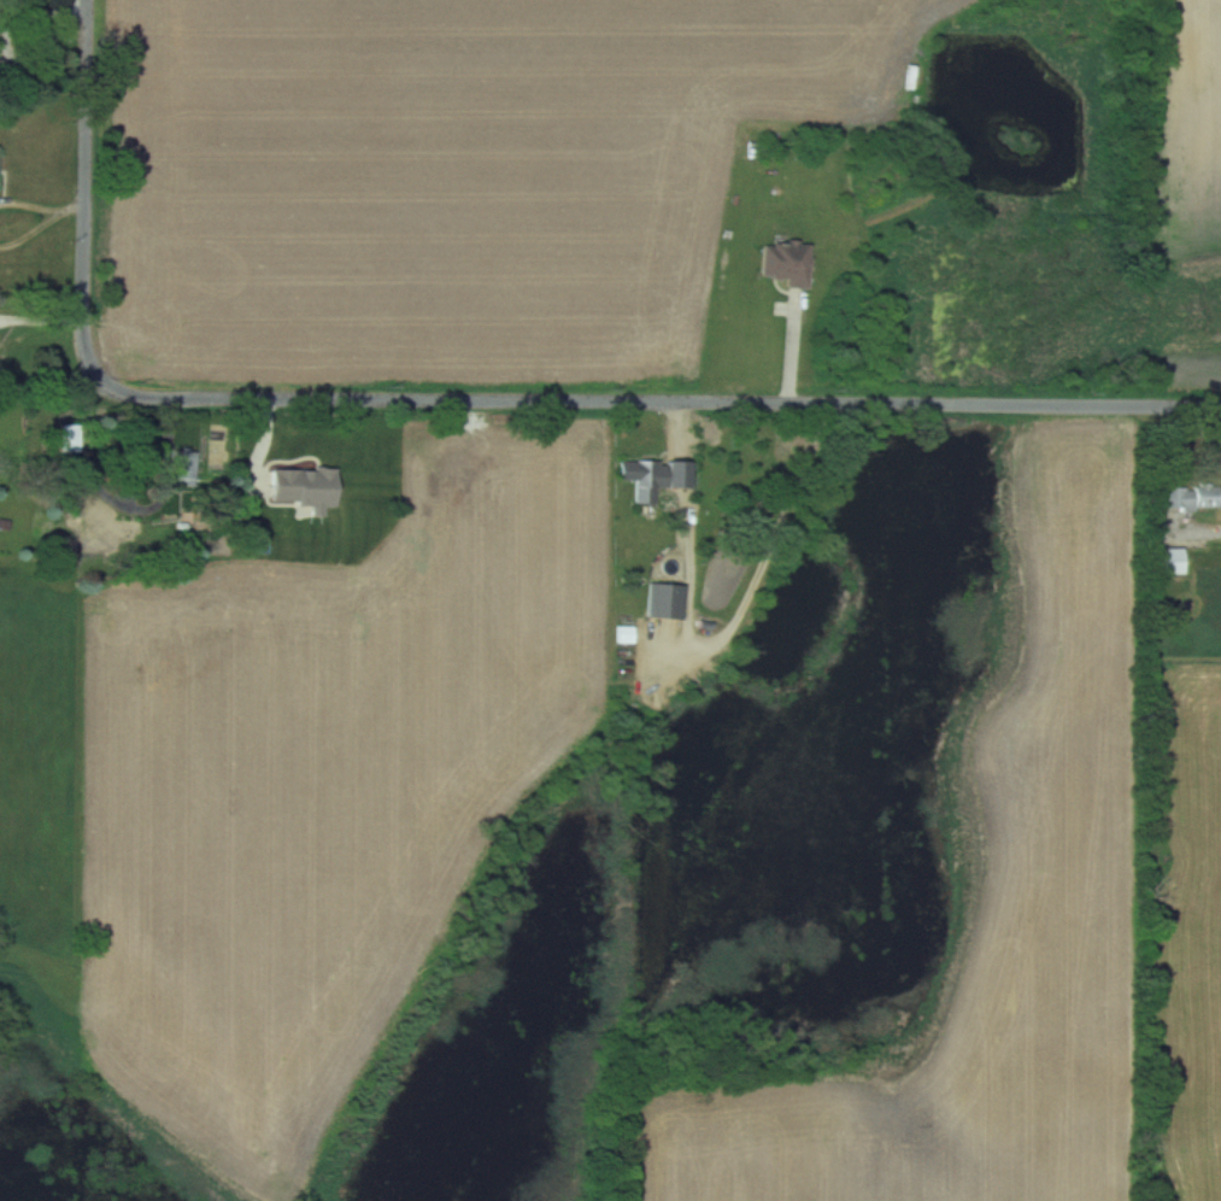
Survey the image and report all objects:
road: (86, 189)
building: (776, 197)
building: (783, 262)
road: (656, 403)
building: (69, 437)
building: (130, 459)
building: (182, 465)
building: (650, 476)
building: (67, 481)
building: (301, 487)
building: (1190, 496)
building: (102, 533)
building: (1167, 560)
building: (663, 600)
building: (623, 633)

